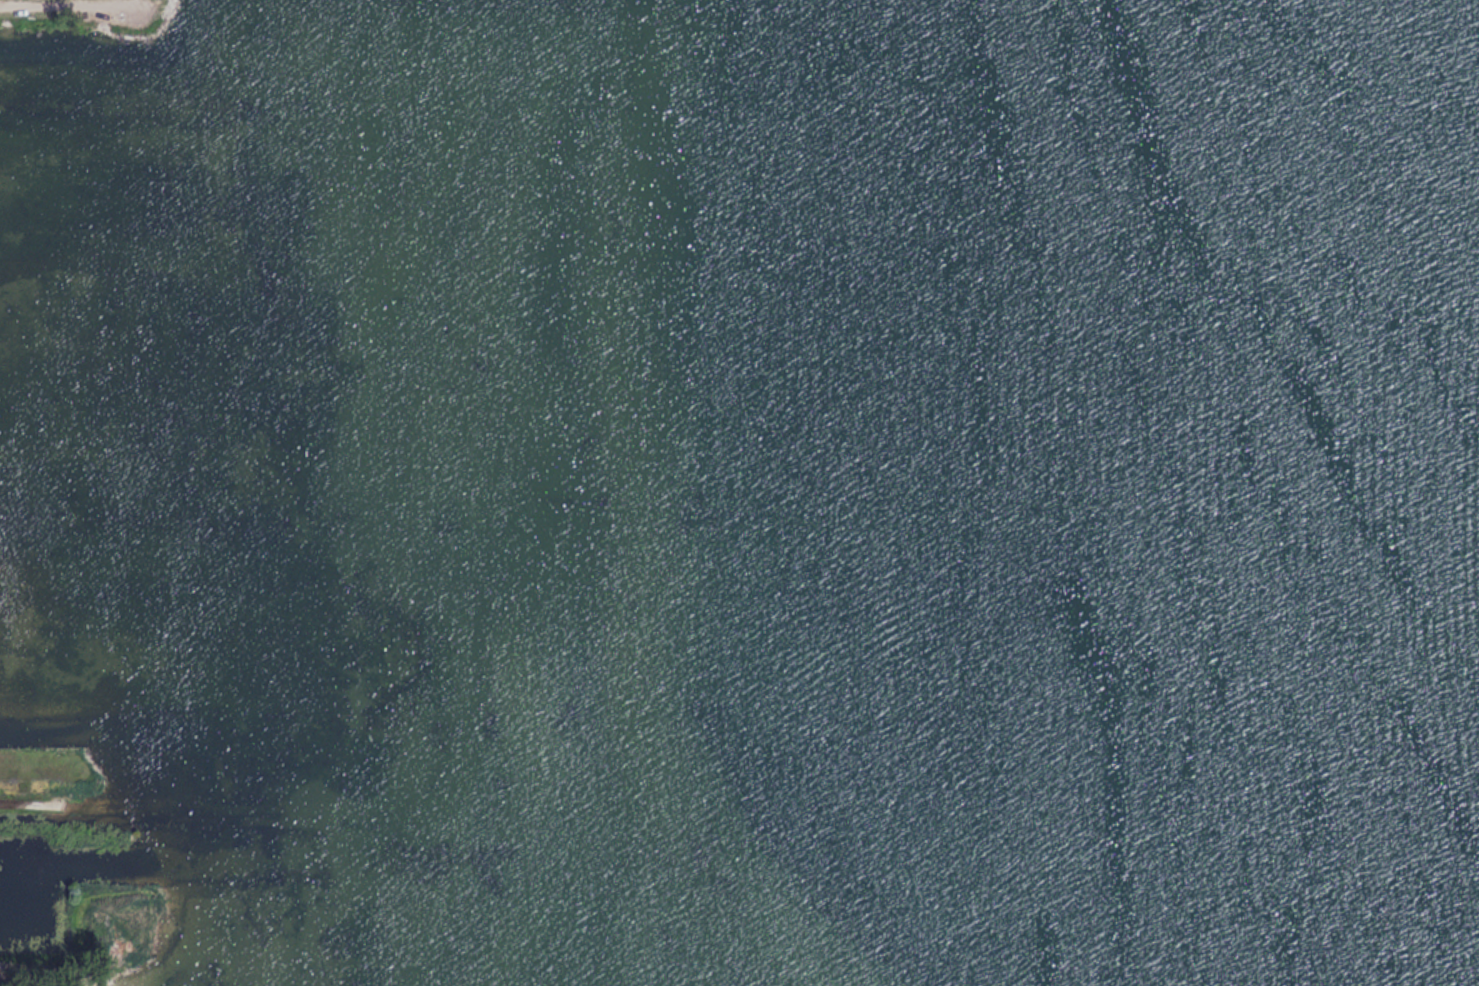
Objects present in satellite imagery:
road: (48, 809)

